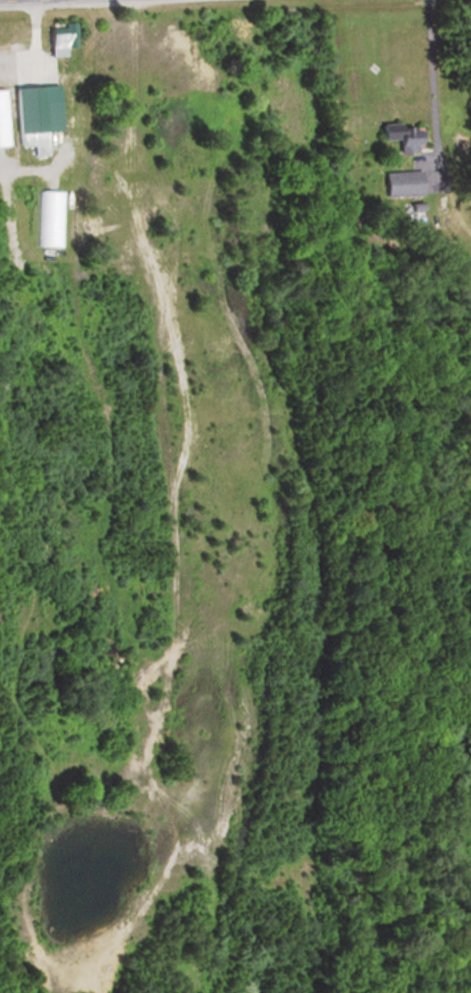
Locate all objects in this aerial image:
road: (4, 0)
building: (60, 36)
road: (33, 42)
road: (429, 87)
building: (29, 111)
building: (400, 137)
building: (402, 183)
road: (402, 219)

